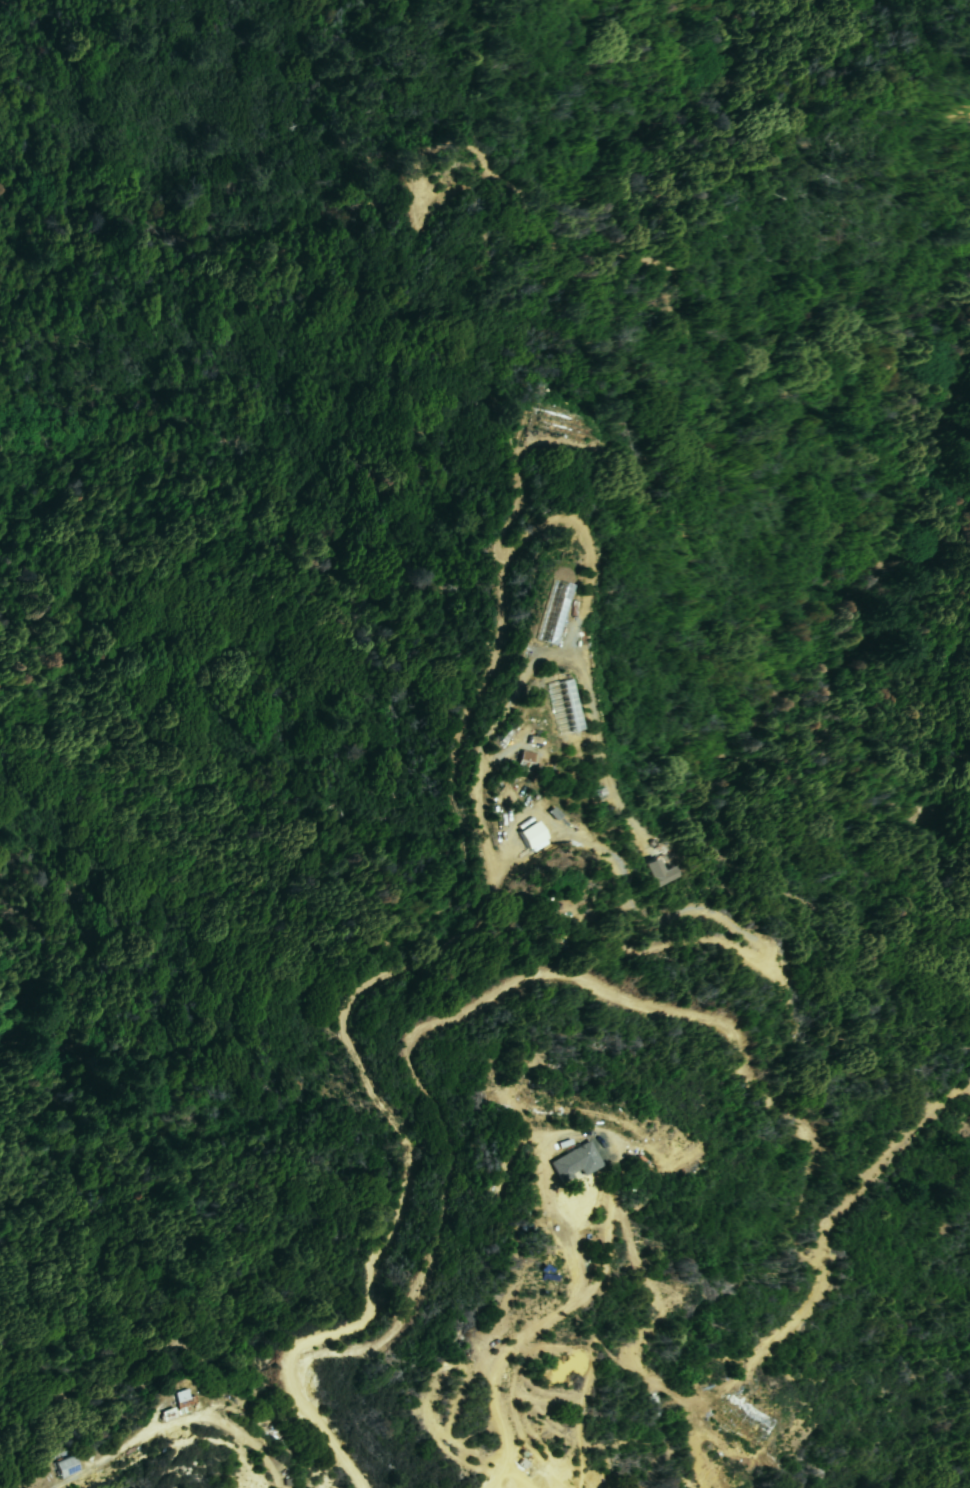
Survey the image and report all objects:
building: (547, 612)
road: (490, 733)
building: (532, 759)
road: (448, 798)
building: (531, 838)
building: (659, 872)
road: (620, 997)
building: (575, 1166)
road: (370, 1255)
road: (511, 1345)
building: (182, 1398)
building: (167, 1414)
building: (738, 1426)
road: (176, 1427)
building: (67, 1463)
road: (699, 1476)

